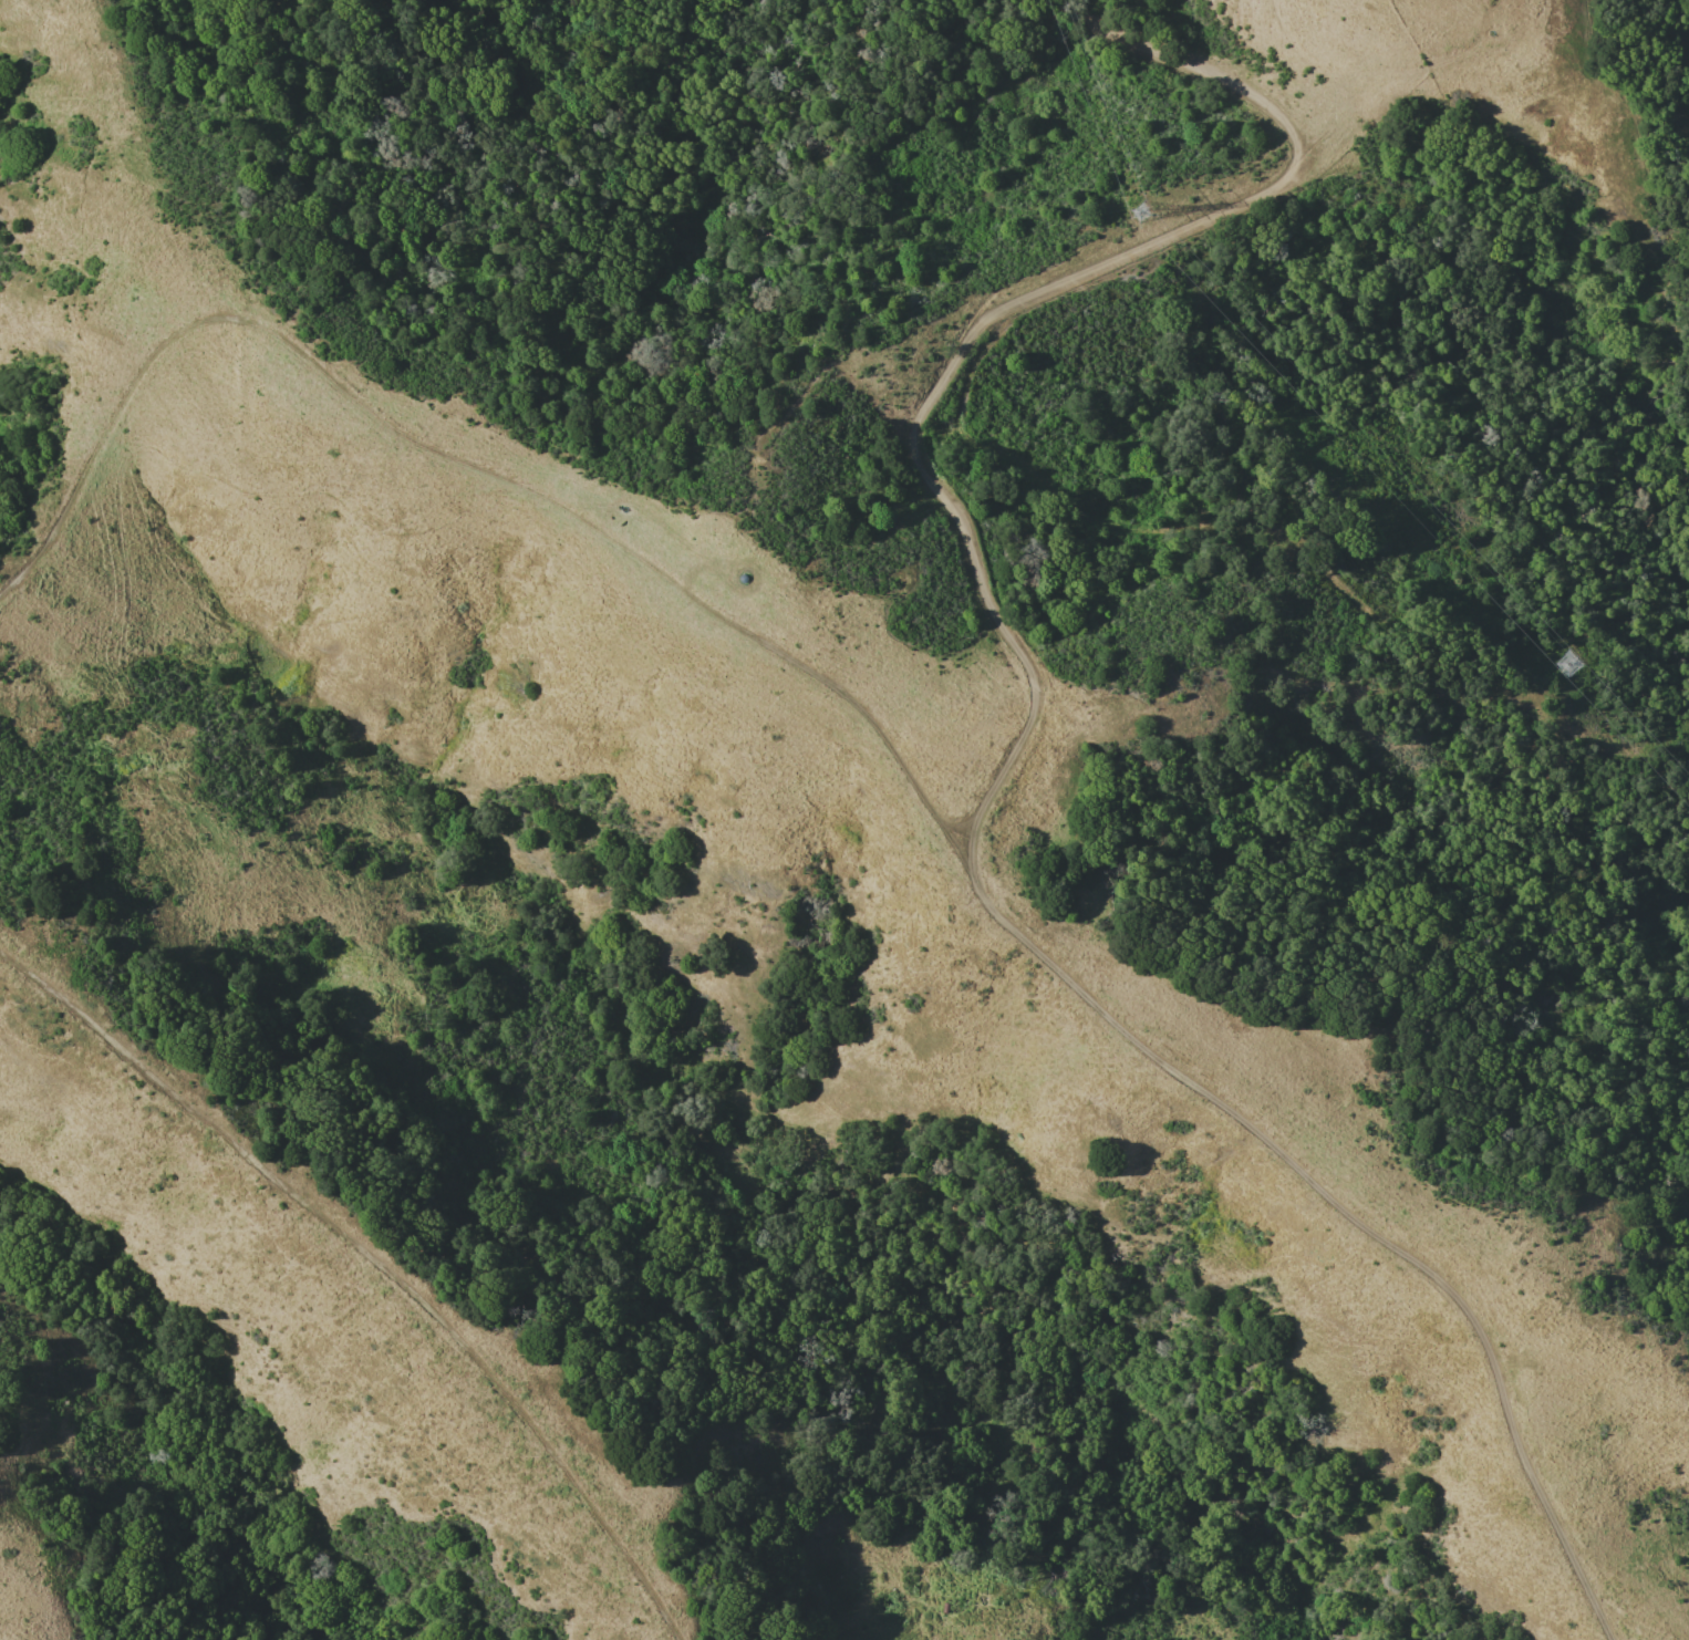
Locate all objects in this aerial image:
power tower: (1146, 211)
road: (457, 459)
power tower: (1571, 660)
road: (1015, 756)
road: (381, 1259)

